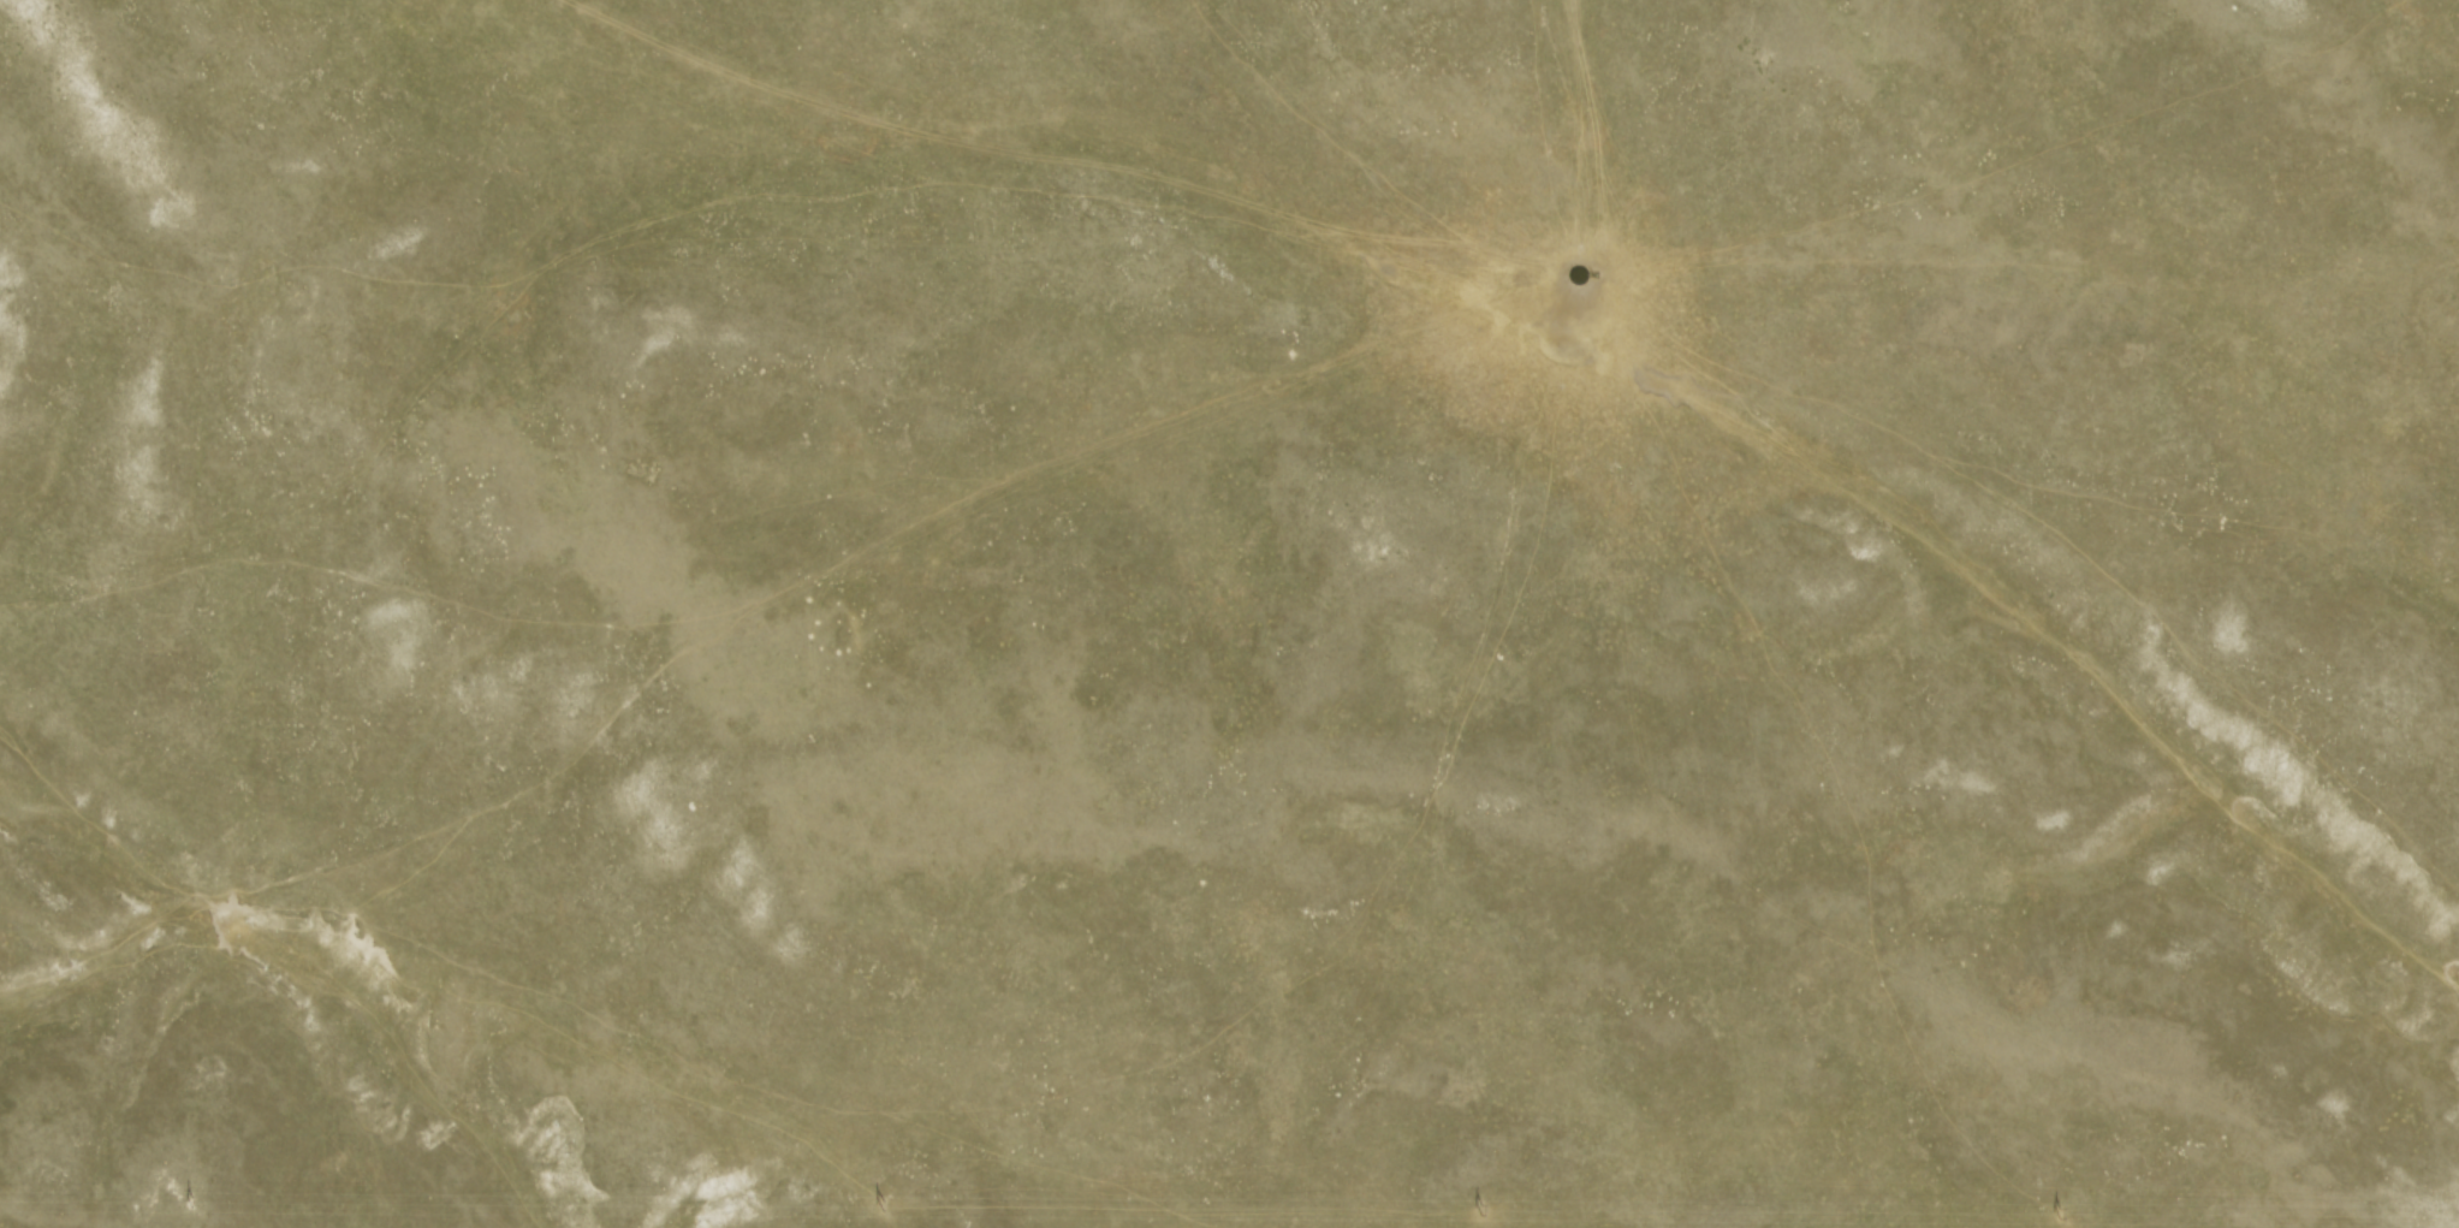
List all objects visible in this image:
power tower: (190, 1202)
power tower: (881, 1205)
power tower: (1479, 1210)
power tower: (2057, 1212)

